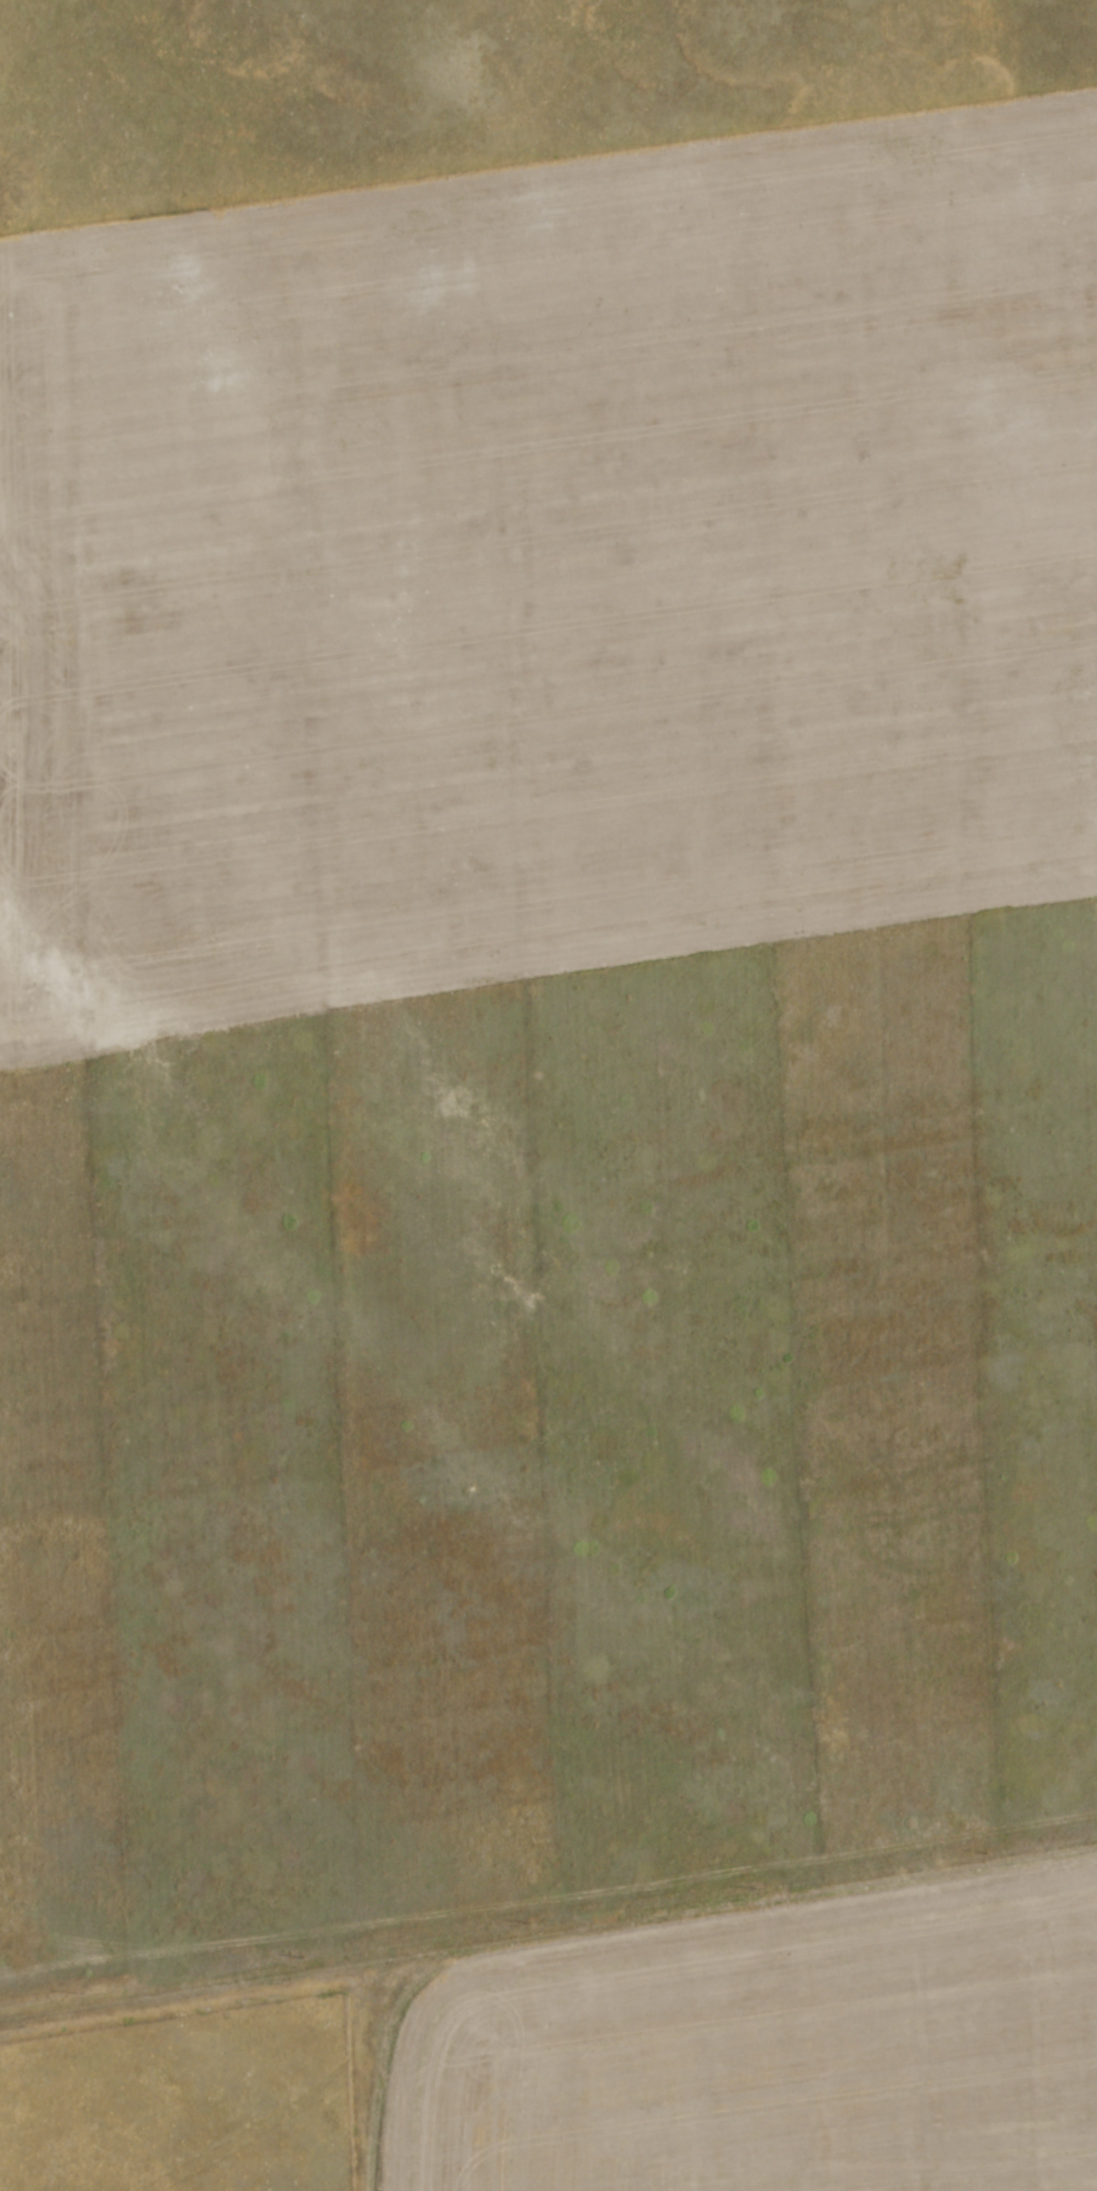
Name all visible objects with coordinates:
road: (548, 1944)
road: (385, 2059)

